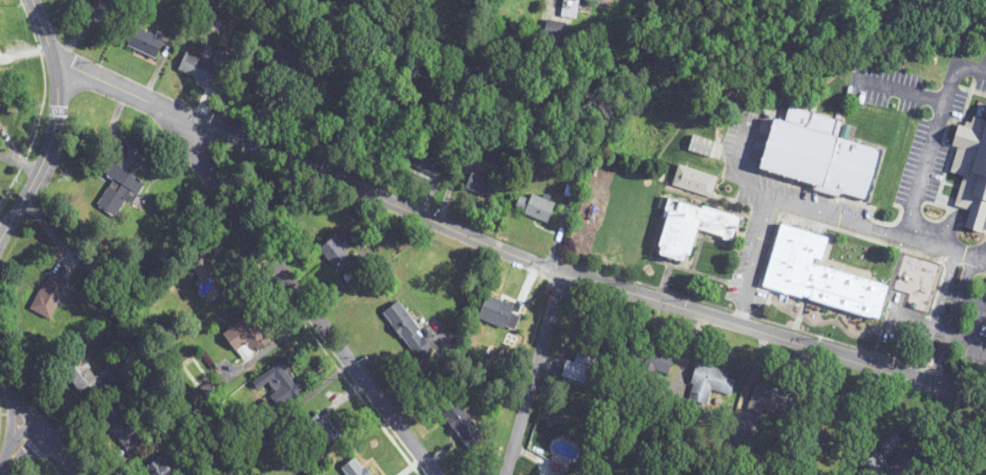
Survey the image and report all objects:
building: (93, 0)
building: (109, 0)
building: (598, 1)
building: (207, 68)
road: (56, 125)
road: (927, 155)
building: (821, 156)
building: (423, 161)
road: (19, 163)
building: (972, 171)
road: (740, 172)
building: (121, 182)
building: (694, 182)
building: (482, 187)
road: (786, 200)
road: (5, 221)
road: (952, 221)
road: (974, 222)
road: (984, 224)
building: (691, 229)
road: (512, 253)
building: (336, 254)
road: (956, 257)
building: (818, 276)
building: (208, 283)
road: (300, 291)
building: (49, 297)
road: (969, 300)
building: (496, 312)
road: (944, 320)
building: (408, 331)
building: (245, 335)
road: (963, 337)
building: (653, 361)
building: (581, 366)
road: (535, 374)
building: (88, 378)
building: (710, 384)
building: (279, 385)
road: (16, 397)
building: (772, 402)
building: (463, 426)
building: (119, 427)
building: (326, 434)
road: (16, 442)
building: (890, 443)
road: (56, 446)
road: (24, 451)
building: (161, 466)
building: (875, 466)
building: (908, 468)
building: (354, 469)
road: (2, 471)

